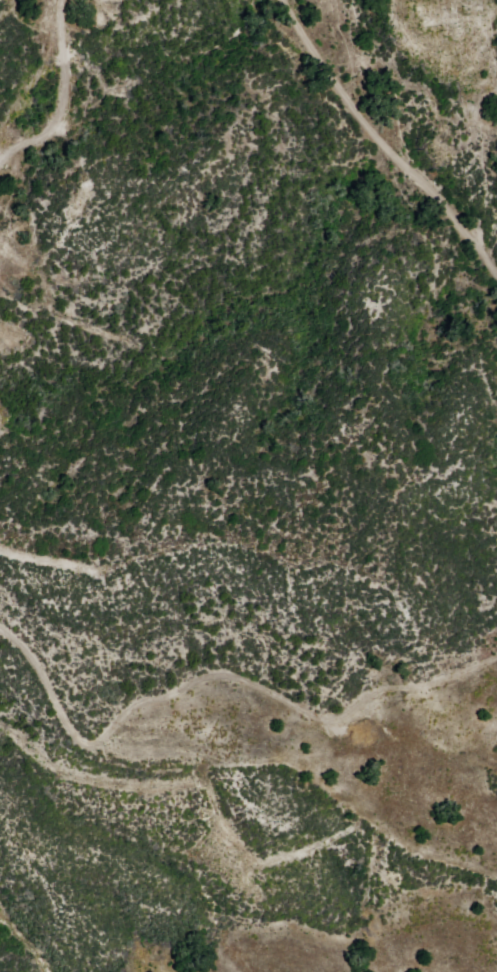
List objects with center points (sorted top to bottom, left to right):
road: (382, 143)

